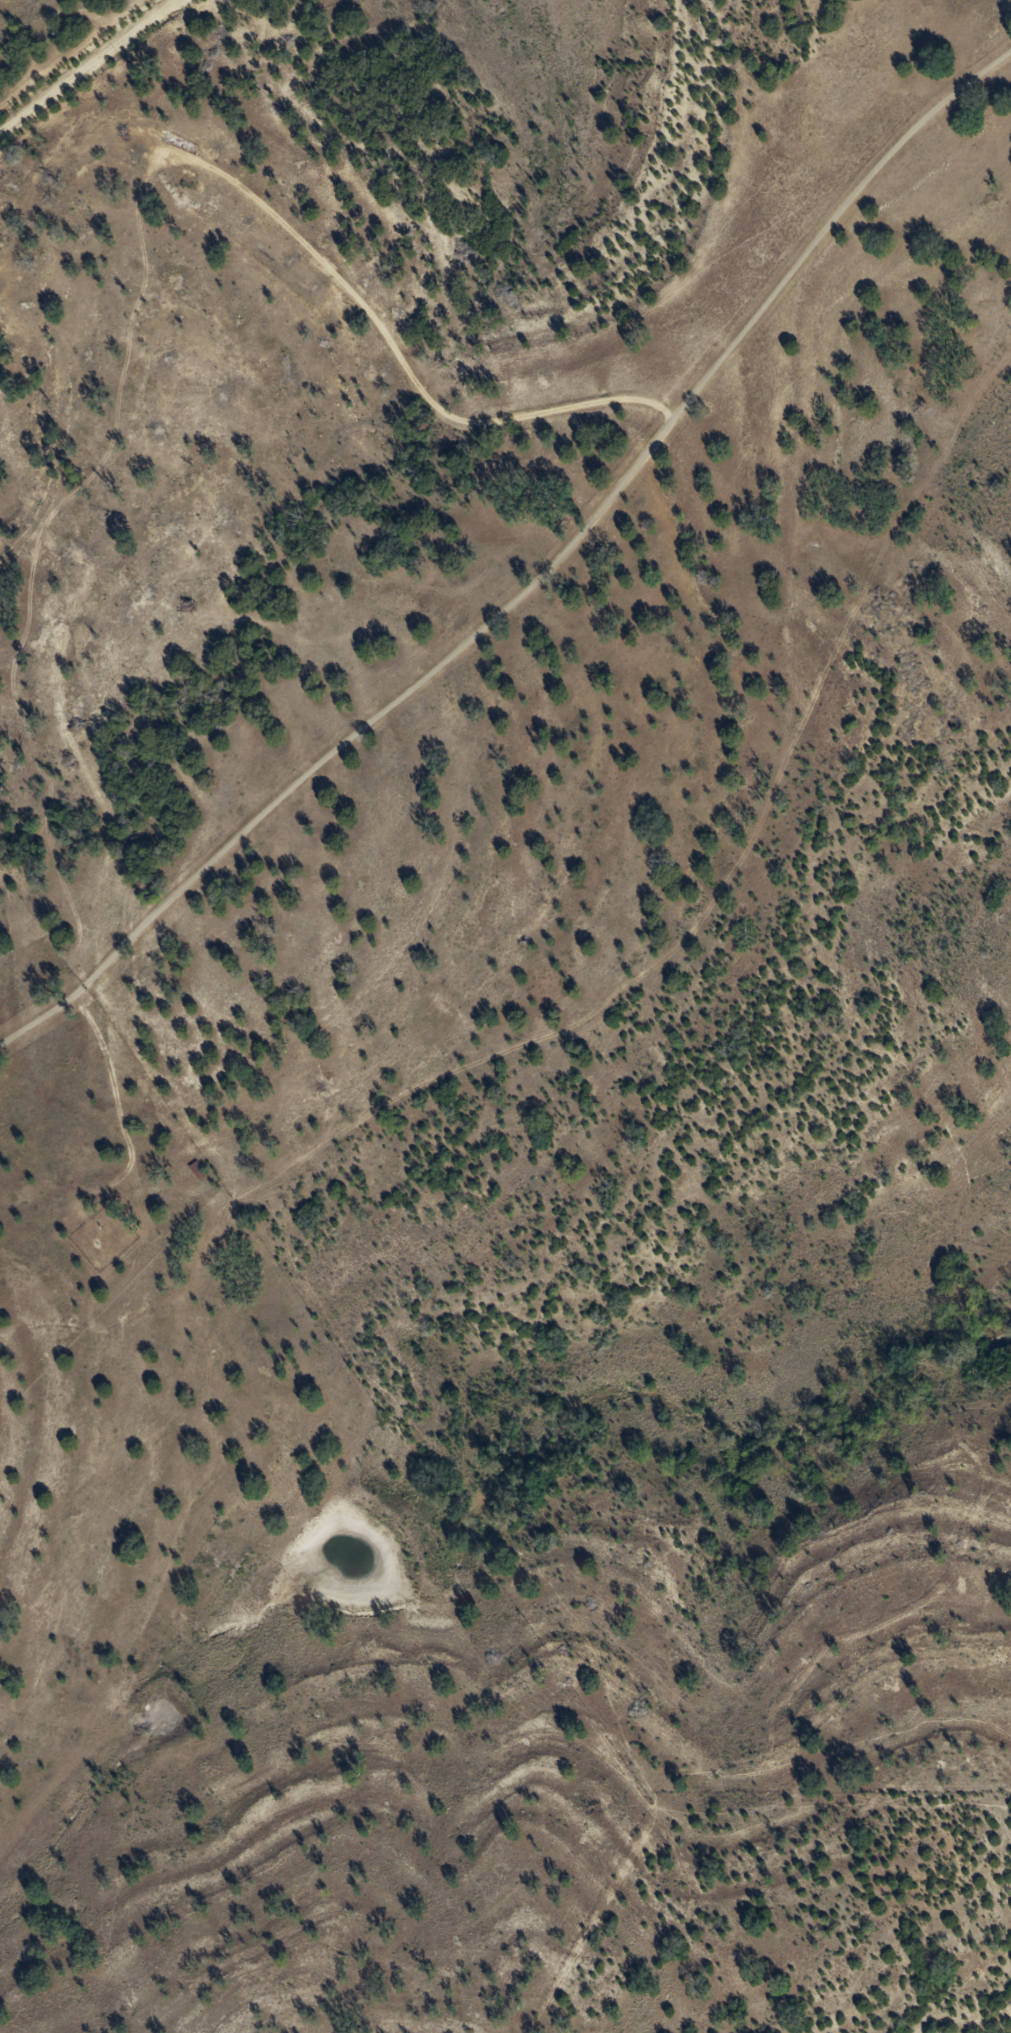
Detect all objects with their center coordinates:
road: (90, 68)
road: (540, 585)

